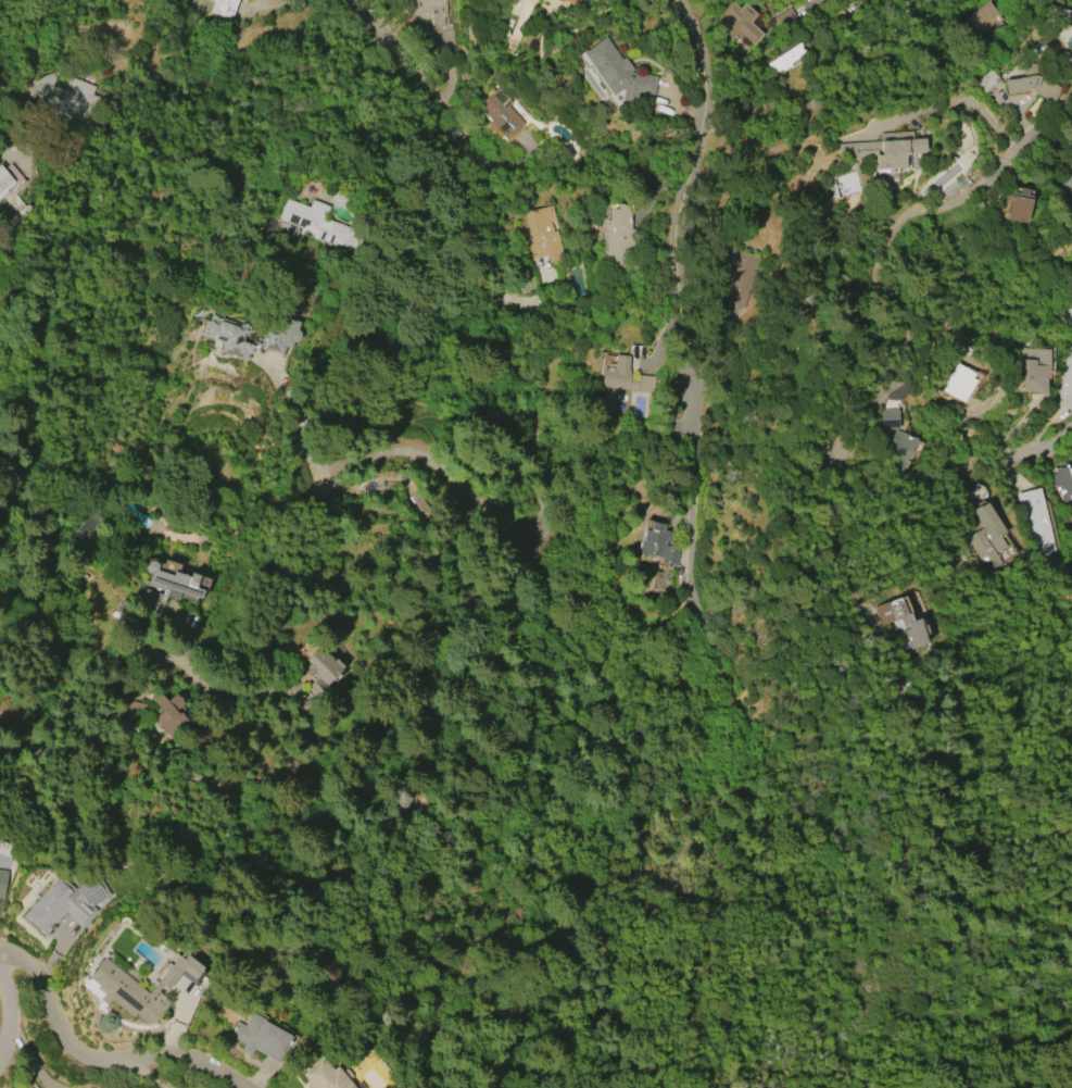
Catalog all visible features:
building: (569, 1)
building: (224, 8)
building: (1057, 12)
building: (437, 20)
building: (981, 23)
building: (737, 24)
building: (785, 59)
building: (617, 72)
road: (423, 82)
building: (985, 83)
building: (1032, 83)
building: (45, 84)
building: (70, 101)
building: (501, 113)
road: (1050, 141)
building: (884, 152)
building: (1065, 176)
building: (4, 180)
building: (843, 185)
building: (1018, 205)
building: (313, 226)
building: (543, 235)
building: (618, 238)
building: (740, 273)
road: (884, 284)
road: (685, 295)
building: (1068, 321)
building: (223, 338)
building: (1032, 368)
building: (1065, 382)
building: (619, 383)
building: (958, 383)
building: (887, 420)
road: (1041, 445)
building: (896, 453)
building: (1061, 483)
building: (1036, 521)
building: (987, 533)
building: (658, 545)
building: (167, 587)
building: (913, 625)
building: (324, 673)
road: (128, 675)
building: (135, 710)
building: (171, 714)
road: (550, 836)
building: (2, 883)
building: (65, 903)
building: (133, 989)
road: (17, 1004)
building: (260, 1038)
road: (97, 1053)
building: (326, 1075)
building: (31, 1087)

